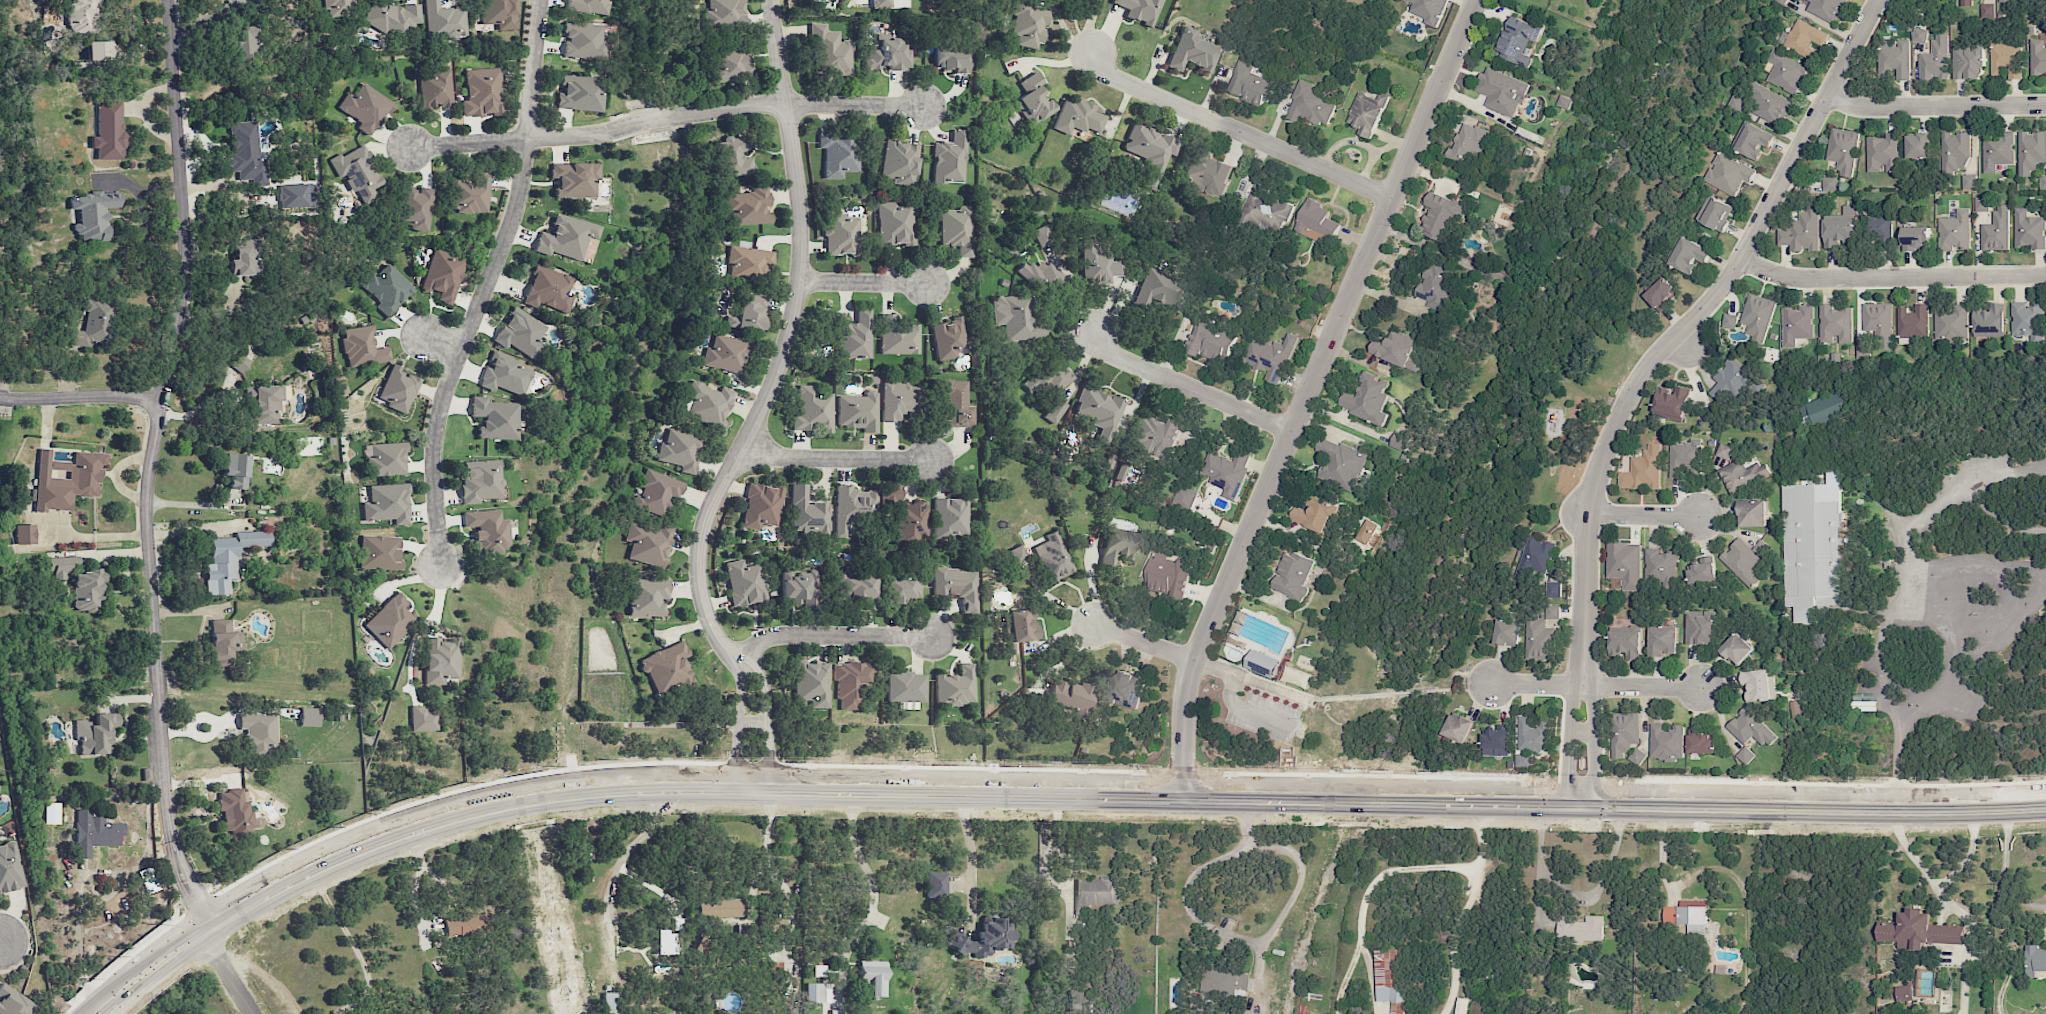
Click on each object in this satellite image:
building: (2014, 0)
building: (1968, 2)
building: (881, 3)
building: (587, 6)
building: (338, 7)
building: (1825, 8)
building: (1140, 10)
building: (1429, 10)
building: (1987, 10)
building: (498, 13)
building: (723, 13)
building: (82, 14)
building: (392, 16)
building: (443, 21)
building: (1028, 25)
building: (1920, 35)
building: (1805, 38)
building: (1517, 39)
building: (583, 41)
building: (245, 43)
building: (101, 49)
building: (831, 50)
road: (779, 52)
building: (1193, 52)
building: (887, 55)
building: (2038, 55)
building: (1895, 57)
building: (952, 59)
building: (1935, 59)
building: (2005, 59)
building: (1967, 62)
building: (730, 64)
building: (1786, 71)
building: (1249, 83)
building: (435, 89)
building: (1501, 91)
building: (482, 92)
building: (579, 93)
building: (1032, 99)
building: (1564, 102)
building: (1736, 103)
building: (1312, 104)
building: (1769, 105)
road: (855, 106)
road: (1935, 106)
building: (365, 108)
building: (1367, 113)
building: (1078, 116)
building: (109, 129)
road: (1235, 129)
road: (597, 134)
building: (1754, 140)
building: (1468, 143)
building: (1918, 145)
building: (1996, 150)
building: (2031, 150)
building: (1150, 151)
building: (1843, 151)
building: (1955, 151)
building: (247, 153)
building: (1883, 153)
building: (735, 157)
building: (950, 159)
building: (899, 162)
building: (357, 172)
building: (1207, 173)
building: (1729, 173)
building: (574, 179)
building: (1969, 181)
building: (2043, 181)
building: (1830, 183)
building: (469, 194)
building: (293, 196)
building: (1981, 203)
building: (747, 207)
building: (414, 208)
building: (1265, 210)
building: (1715, 213)
building: (94, 214)
building: (1440, 215)
building: (1316, 222)
building: (894, 224)
building: (1839, 227)
building: (1880, 227)
building: (956, 229)
building: (1954, 230)
building: (1996, 230)
building: (2028, 230)
building: (1801, 231)
building: (841, 235)
building: (1042, 235)
building: (566, 237)
building: (1915, 237)
building: (1689, 255)
building: (247, 259)
building: (749, 263)
building: (1098, 264)
building: (443, 275)
road: (1891, 276)
building: (1042, 278)
road: (863, 283)
road: (483, 286)
building: (1436, 287)
building: (386, 289)
building: (549, 290)
building: (1161, 292)
building: (1660, 294)
building: (751, 312)
road: (1696, 315)
building: (1757, 315)
building: (1015, 318)
building: (1729, 320)
building: (1990, 320)
building: (2028, 321)
building: (1913, 322)
building: (1951, 322)
building: (92, 323)
building: (1879, 323)
building: (1797, 324)
building: (1835, 324)
building: (521, 332)
building: (856, 336)
building: (898, 336)
building: (947, 338)
building: (1210, 341)
road: (440, 342)
road: (1683, 342)
building: (362, 347)
building: (1399, 349)
building: (1863, 349)
building: (724, 354)
building: (1269, 355)
building: (240, 362)
building: (505, 374)
building: (1049, 379)
building: (1731, 379)
road: (1186, 386)
building: (398, 388)
road: (1304, 395)
road: (80, 397)
building: (1367, 398)
building: (898, 400)
building: (1671, 402)
building: (707, 403)
building: (955, 403)
building: (265, 404)
building: (1823, 409)
building: (812, 410)
building: (1055, 411)
building: (1099, 411)
building: (858, 412)
building: (495, 418)
building: (1156, 436)
building: (1399, 440)
building: (679, 450)
building: (1724, 451)
road: (737, 455)
building: (1684, 455)
road: (833, 459)
building: (386, 460)
building: (1340, 463)
building: (235, 470)
building: (1643, 470)
road: (149, 471)
building: (1121, 471)
building: (1226, 471)
building: (1743, 474)
building: (66, 479)
building: (481, 481)
building: (655, 493)
building: (891, 495)
building: (1185, 497)
road: (194, 503)
building: (387, 503)
building: (761, 506)
building: (853, 507)
building: (1753, 513)
building: (808, 514)
road: (1643, 514)
building: (1317, 515)
building: (952, 516)
road: (1999, 517)
building: (911, 523)
road: (198, 527)
building: (488, 530)
building: (1367, 531)
building: (24, 534)
building: (648, 544)
building: (1117, 547)
building: (1813, 549)
building: (380, 553)
building: (1016, 554)
building: (1053, 557)
building: (229, 559)
building: (1745, 560)
building: (1625, 564)
building: (61, 566)
building: (1660, 566)
building: (1703, 570)
building: (1167, 574)
building: (1293, 575)
building: (744, 583)
building: (957, 586)
building: (800, 587)
building: (858, 588)
building: (902, 588)
building: (1553, 589)
building: (88, 590)
building: (647, 597)
road: (1936, 601)
building: (390, 620)
building: (1020, 626)
building: (1700, 627)
building: (1508, 632)
building: (1541, 632)
road: (830, 636)
building: (1626, 640)
building: (1663, 640)
building: (223, 642)
road: (1143, 642)
building: (1737, 648)
building: (441, 659)
building: (1263, 663)
building: (667, 668)
building: (850, 681)
building: (812, 683)
building: (1758, 684)
road: (1595, 686)
building: (956, 687)
building: (1126, 689)
building: (1071, 696)
road: (1229, 699)
building: (1794, 707)
building: (309, 717)
building: (422, 719)
road: (1569, 726)
road: (1592, 726)
building: (1458, 727)
building: (1750, 728)
road: (1581, 730)
building: (259, 732)
building: (1532, 733)
building: (1624, 733)
building: (96, 734)
building: (1497, 741)
building: (1700, 741)
building: (1666, 742)
building: (1745, 754)
building: (1638, 756)
building: (1523, 759)
road: (1051, 799)
road: (958, 804)
road: (850, 805)
traffic signals: (1567, 808)
traffic signals: (1596, 808)
building: (234, 811)
building: (52, 813)
road: (962, 819)
road: (851, 820)
building: (95, 833)
road: (1478, 838)
road: (766, 847)
road: (1659, 855)
building: (9, 868)
road: (110, 872)
road: (970, 875)
road: (2003, 877)
building: (148, 880)
building: (936, 884)
road: (874, 893)
building: (1095, 893)
road: (1365, 894)
building: (722, 907)
building: (1689, 917)
road: (424, 923)
building: (465, 925)
building: (1580, 929)
building: (1918, 930)
road: (1222, 933)
road: (0, 937)
road: (0, 939)
building: (985, 939)
road: (1451, 940)
building: (665, 944)
road: (355, 951)
building: (2035, 960)
road: (80, 962)
building: (874, 976)
road: (230, 978)
building: (1389, 980)
building: (1226, 982)
building: (1904, 992)
building: (818, 993)
building: (1080, 1000)
building: (14, 1002)
building: (609, 1003)
building: (1461, 1005)
building: (841, 1012)
building: (403, 1013)

